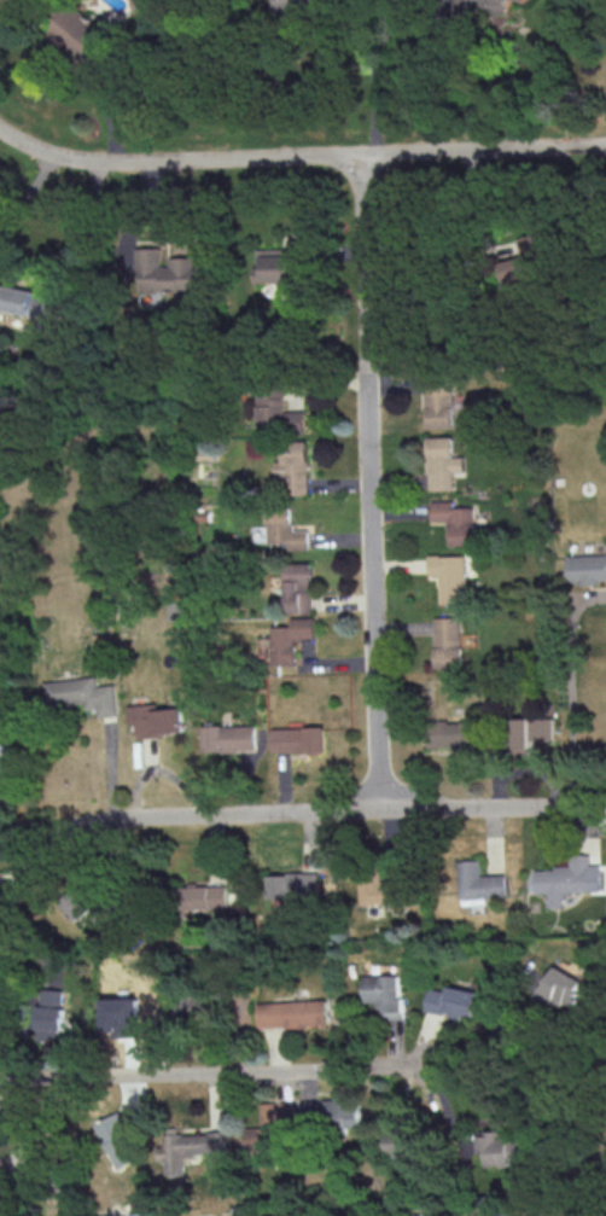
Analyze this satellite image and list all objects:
building: (519, 0)
building: (291, 4)
building: (467, 10)
building: (76, 30)
road: (375, 72)
road: (107, 110)
road: (299, 157)
road: (28, 186)
building: (524, 262)
building: (279, 264)
building: (165, 270)
building: (30, 304)
building: (438, 402)
building: (276, 413)
building: (442, 461)
building: (293, 466)
road: (368, 483)
building: (455, 520)
building: (285, 530)
building: (587, 568)
building: (449, 576)
building: (298, 587)
building: (290, 639)
building: (448, 641)
building: (83, 693)
building: (155, 718)
building: (531, 731)
building: (451, 734)
building: (228, 737)
building: (298, 739)
building: (6, 761)
road: (257, 813)
road: (13, 850)
building: (567, 879)
building: (480, 883)
building: (292, 886)
building: (379, 888)
building: (203, 896)
building: (82, 906)
building: (561, 987)
building: (383, 994)
building: (450, 1000)
building: (192, 1002)
building: (292, 1013)
building: (49, 1014)
building: (121, 1014)
road: (476, 1046)
road: (210, 1072)
building: (340, 1111)
building: (269, 1128)
road: (28, 1138)
building: (118, 1139)
building: (402, 1144)
building: (497, 1148)
building: (197, 1150)
building: (5, 1169)

